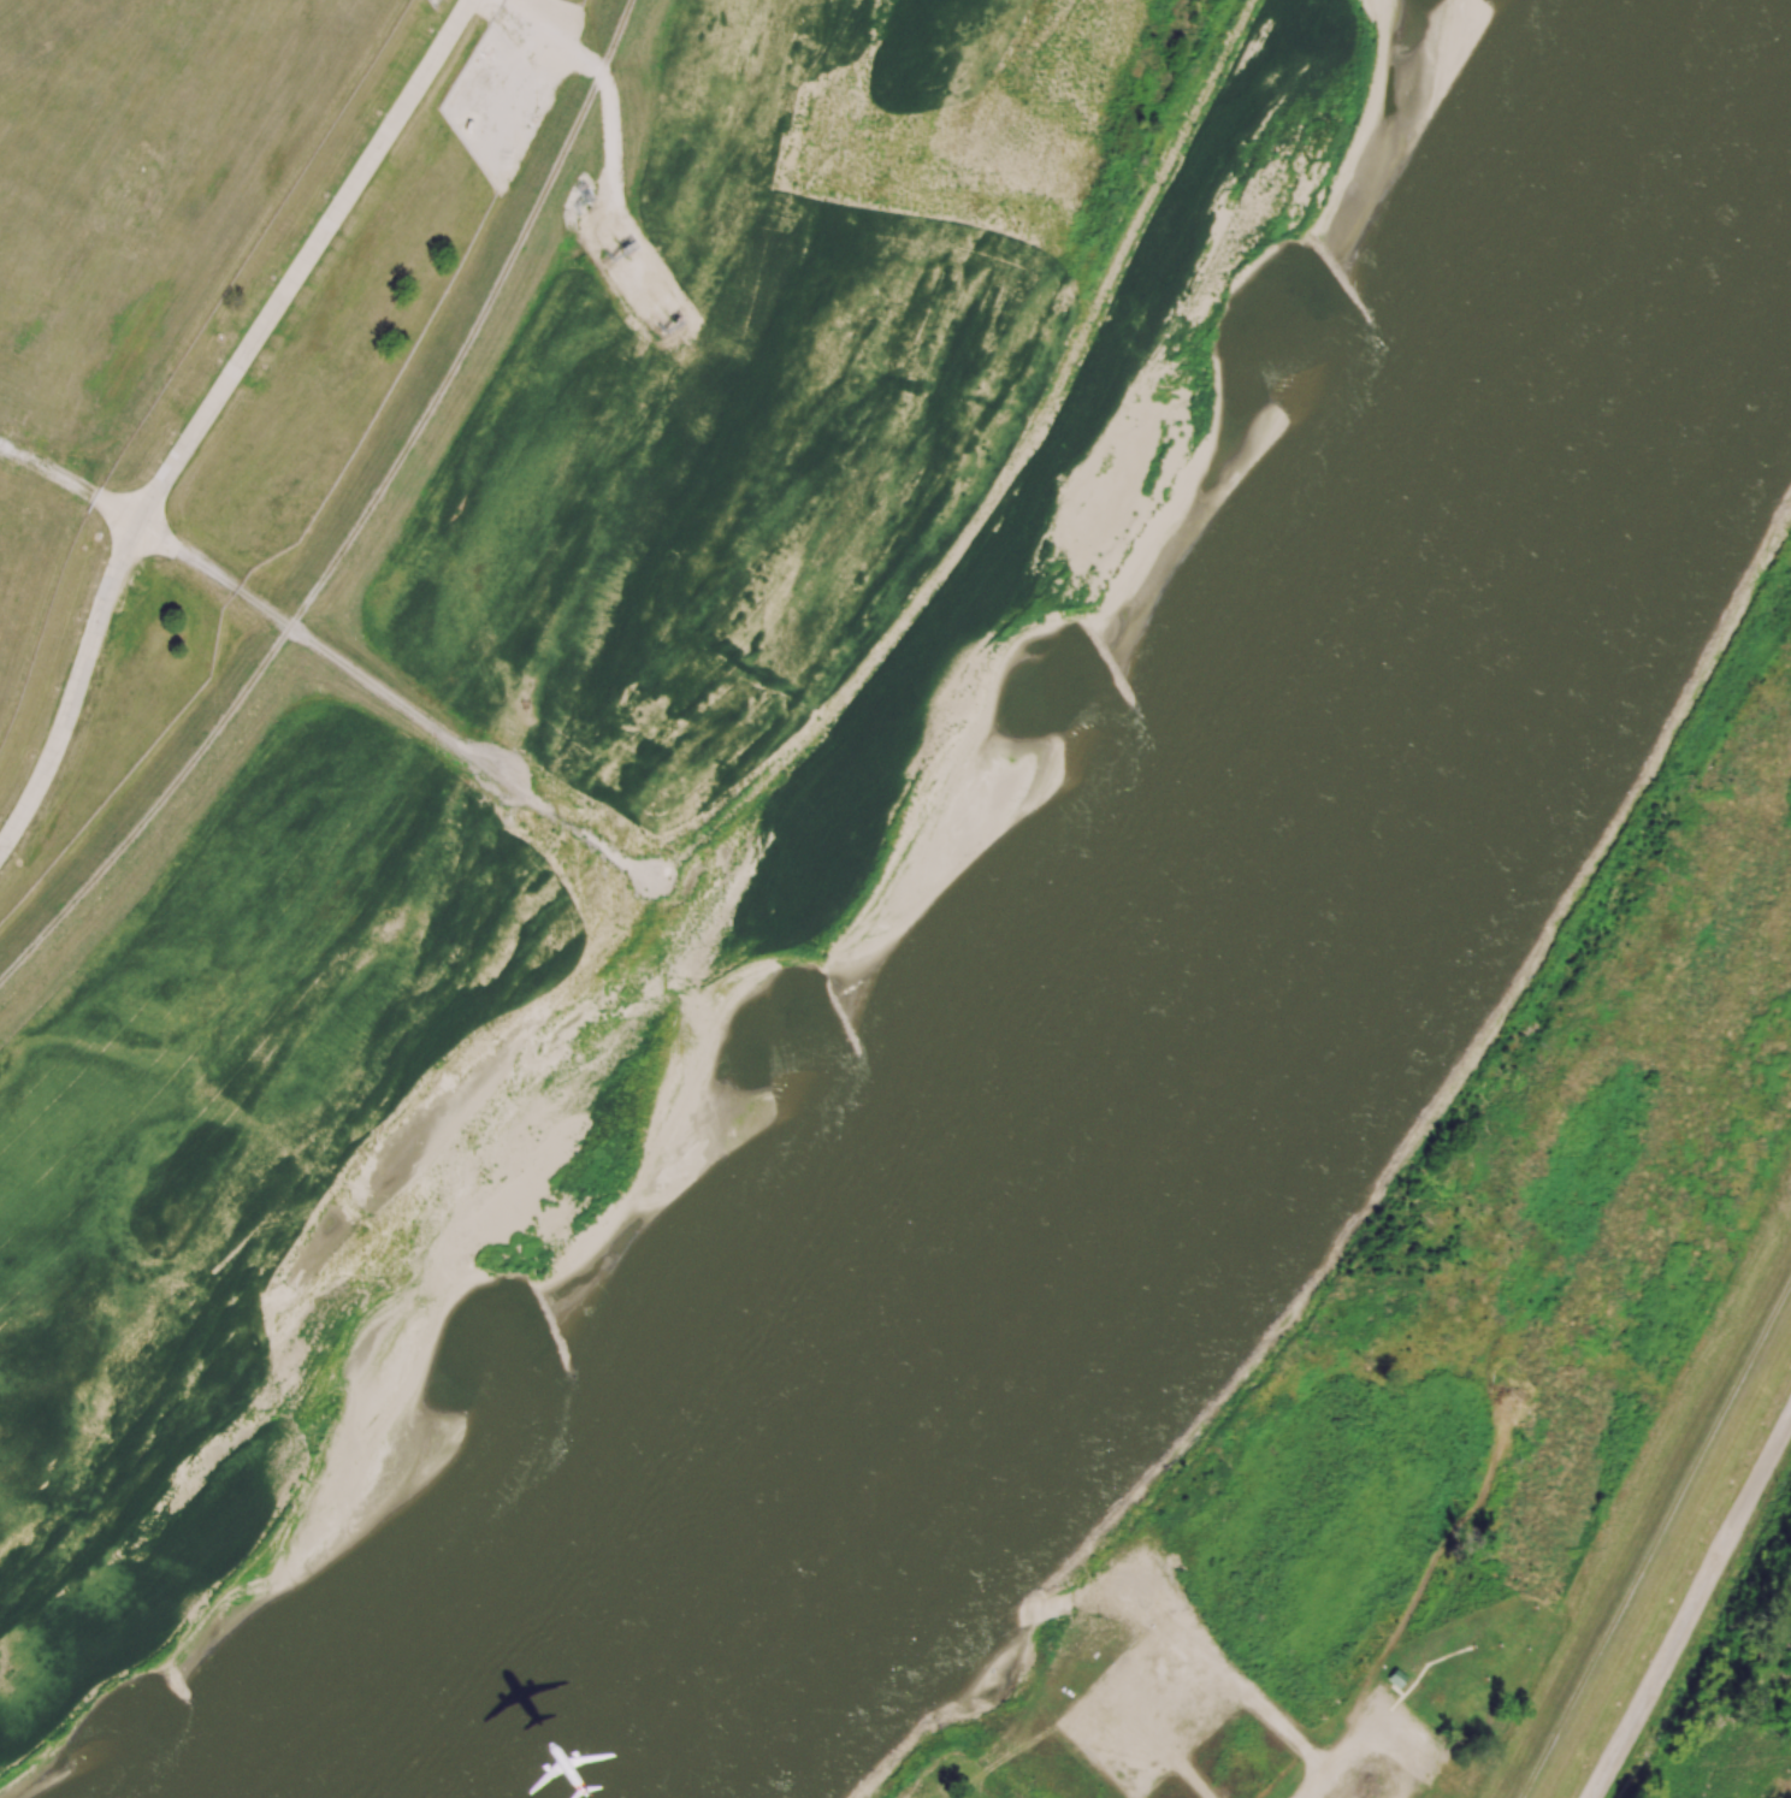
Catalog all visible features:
road: (303, 264)
airport: (207, 327)
road: (71, 484)
road: (75, 692)
road: (395, 705)
river: (1199, 964)
road: (1421, 1305)
road: (1512, 1345)
park: (1483, 1370)
road: (1488, 1394)
road: (1149, 1561)
road: (1103, 1592)
road: (1166, 1599)
road: (1692, 1608)
road: (1449, 1614)
road: (1166, 1631)
road: (1248, 1697)
road: (1206, 1698)
parking lot: (1141, 1714)
road: (1141, 1721)
road: (1077, 1738)
parking lot: (1379, 1759)
road: (1369, 1761)
road: (1188, 1775)
road: (1311, 1784)

